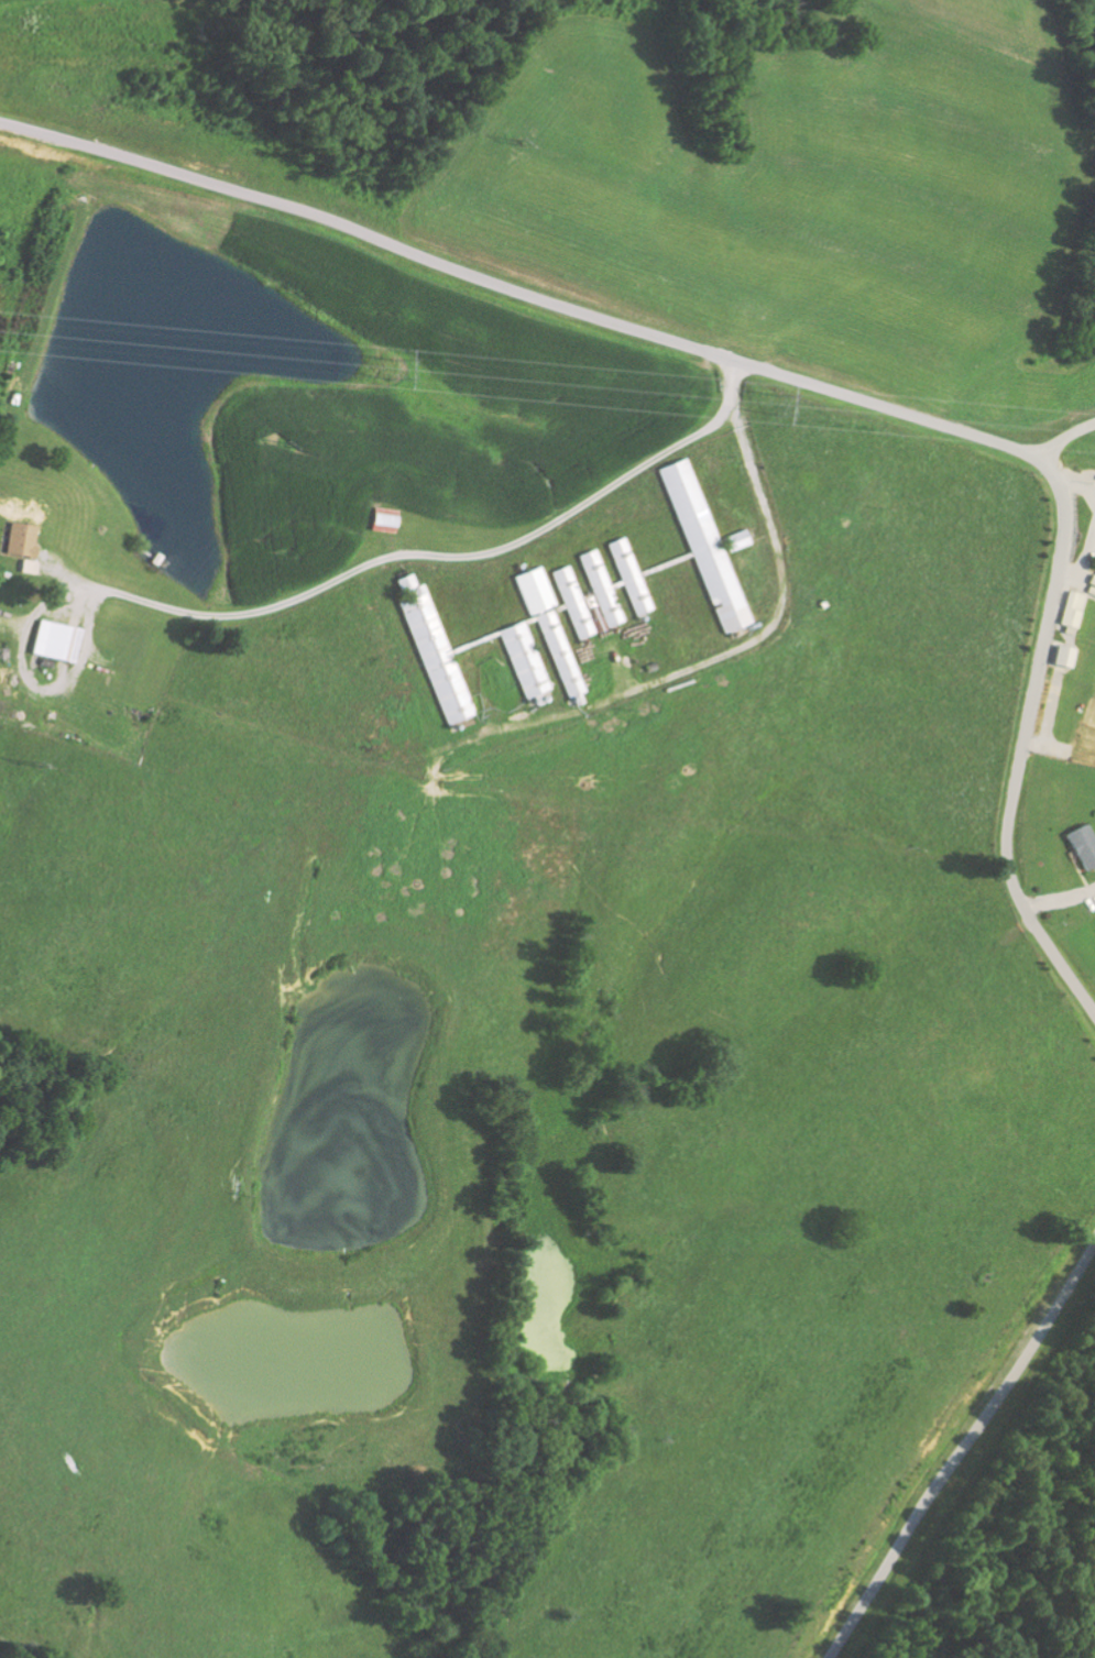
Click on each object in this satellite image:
power tower: (387, 370)
road: (799, 378)
power tower: (770, 402)
road: (1063, 437)
building: (384, 521)
building: (22, 538)
building: (709, 547)
building: (631, 575)
building: (1093, 579)
building: (601, 588)
building: (536, 590)
building: (573, 602)
building: (1073, 608)
building: (56, 639)
building: (435, 650)
building: (1064, 655)
building: (561, 656)
building: (525, 659)
building: (1084, 845)
road: (962, 1453)

